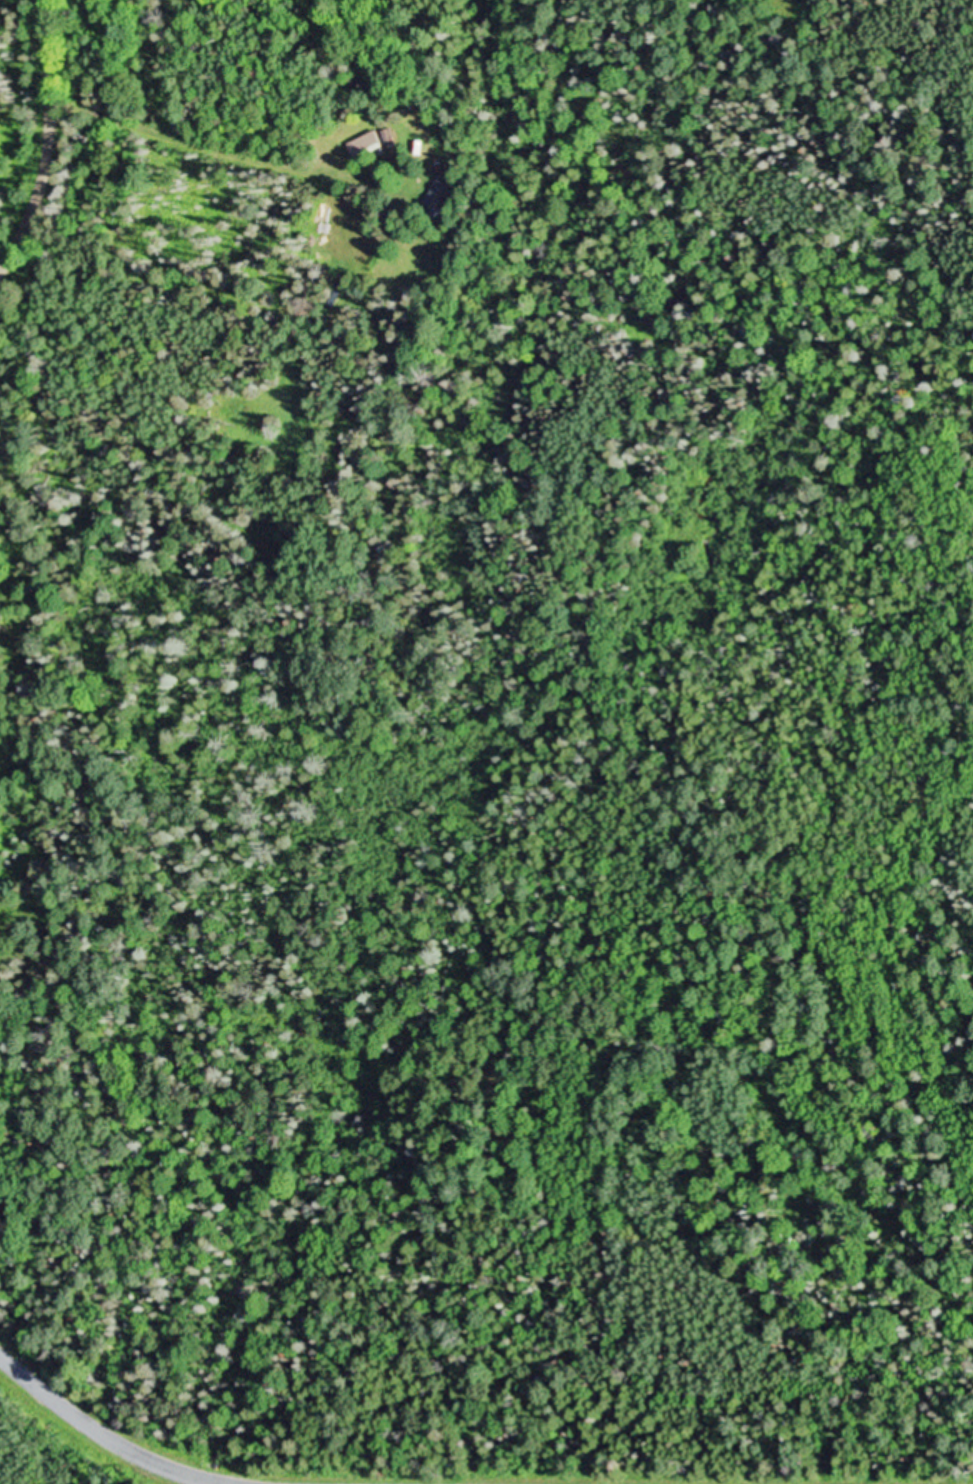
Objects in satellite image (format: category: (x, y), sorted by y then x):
road: (172, 131)
road: (45, 140)
road: (871, 1196)
road: (107, 1434)

